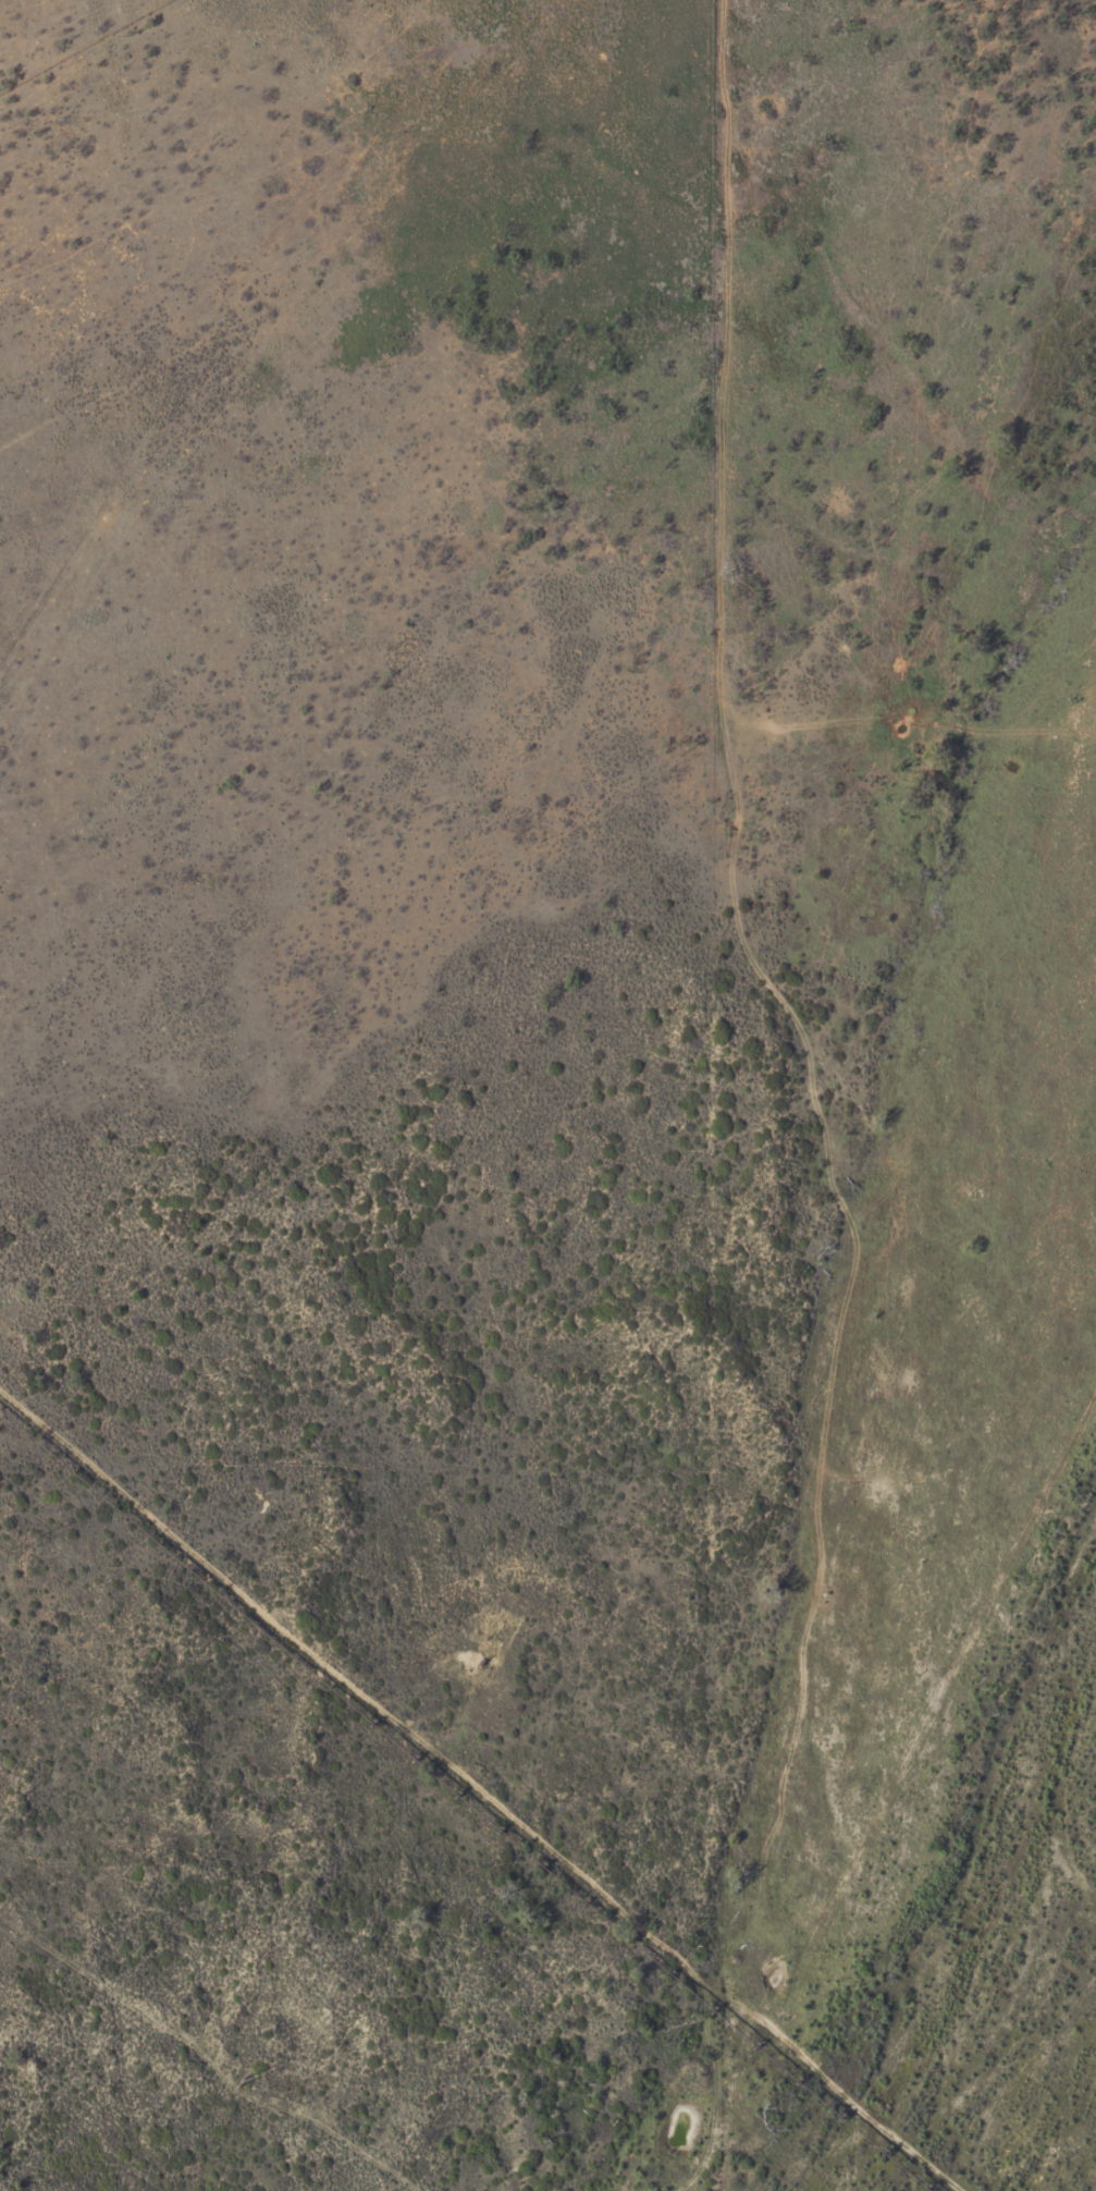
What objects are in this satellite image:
power tower: (245, 2081)

